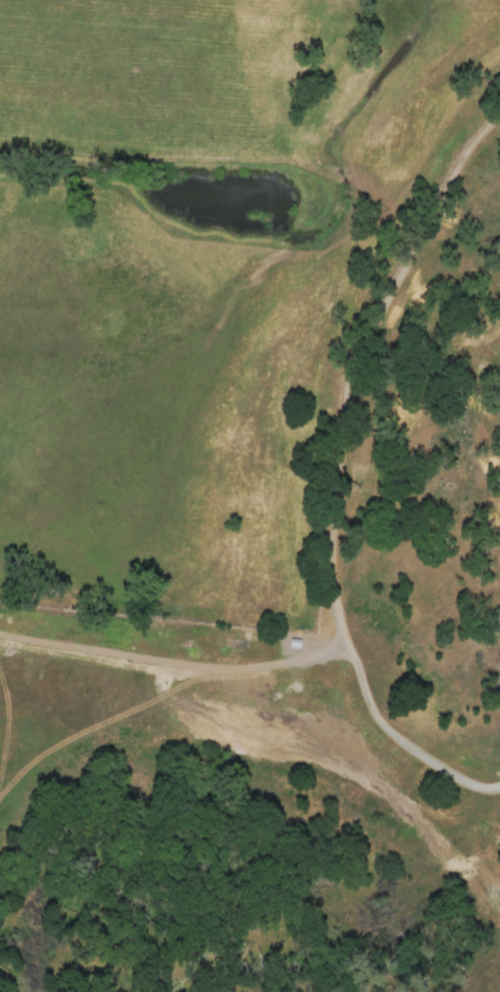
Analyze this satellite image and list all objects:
road: (336, 472)

